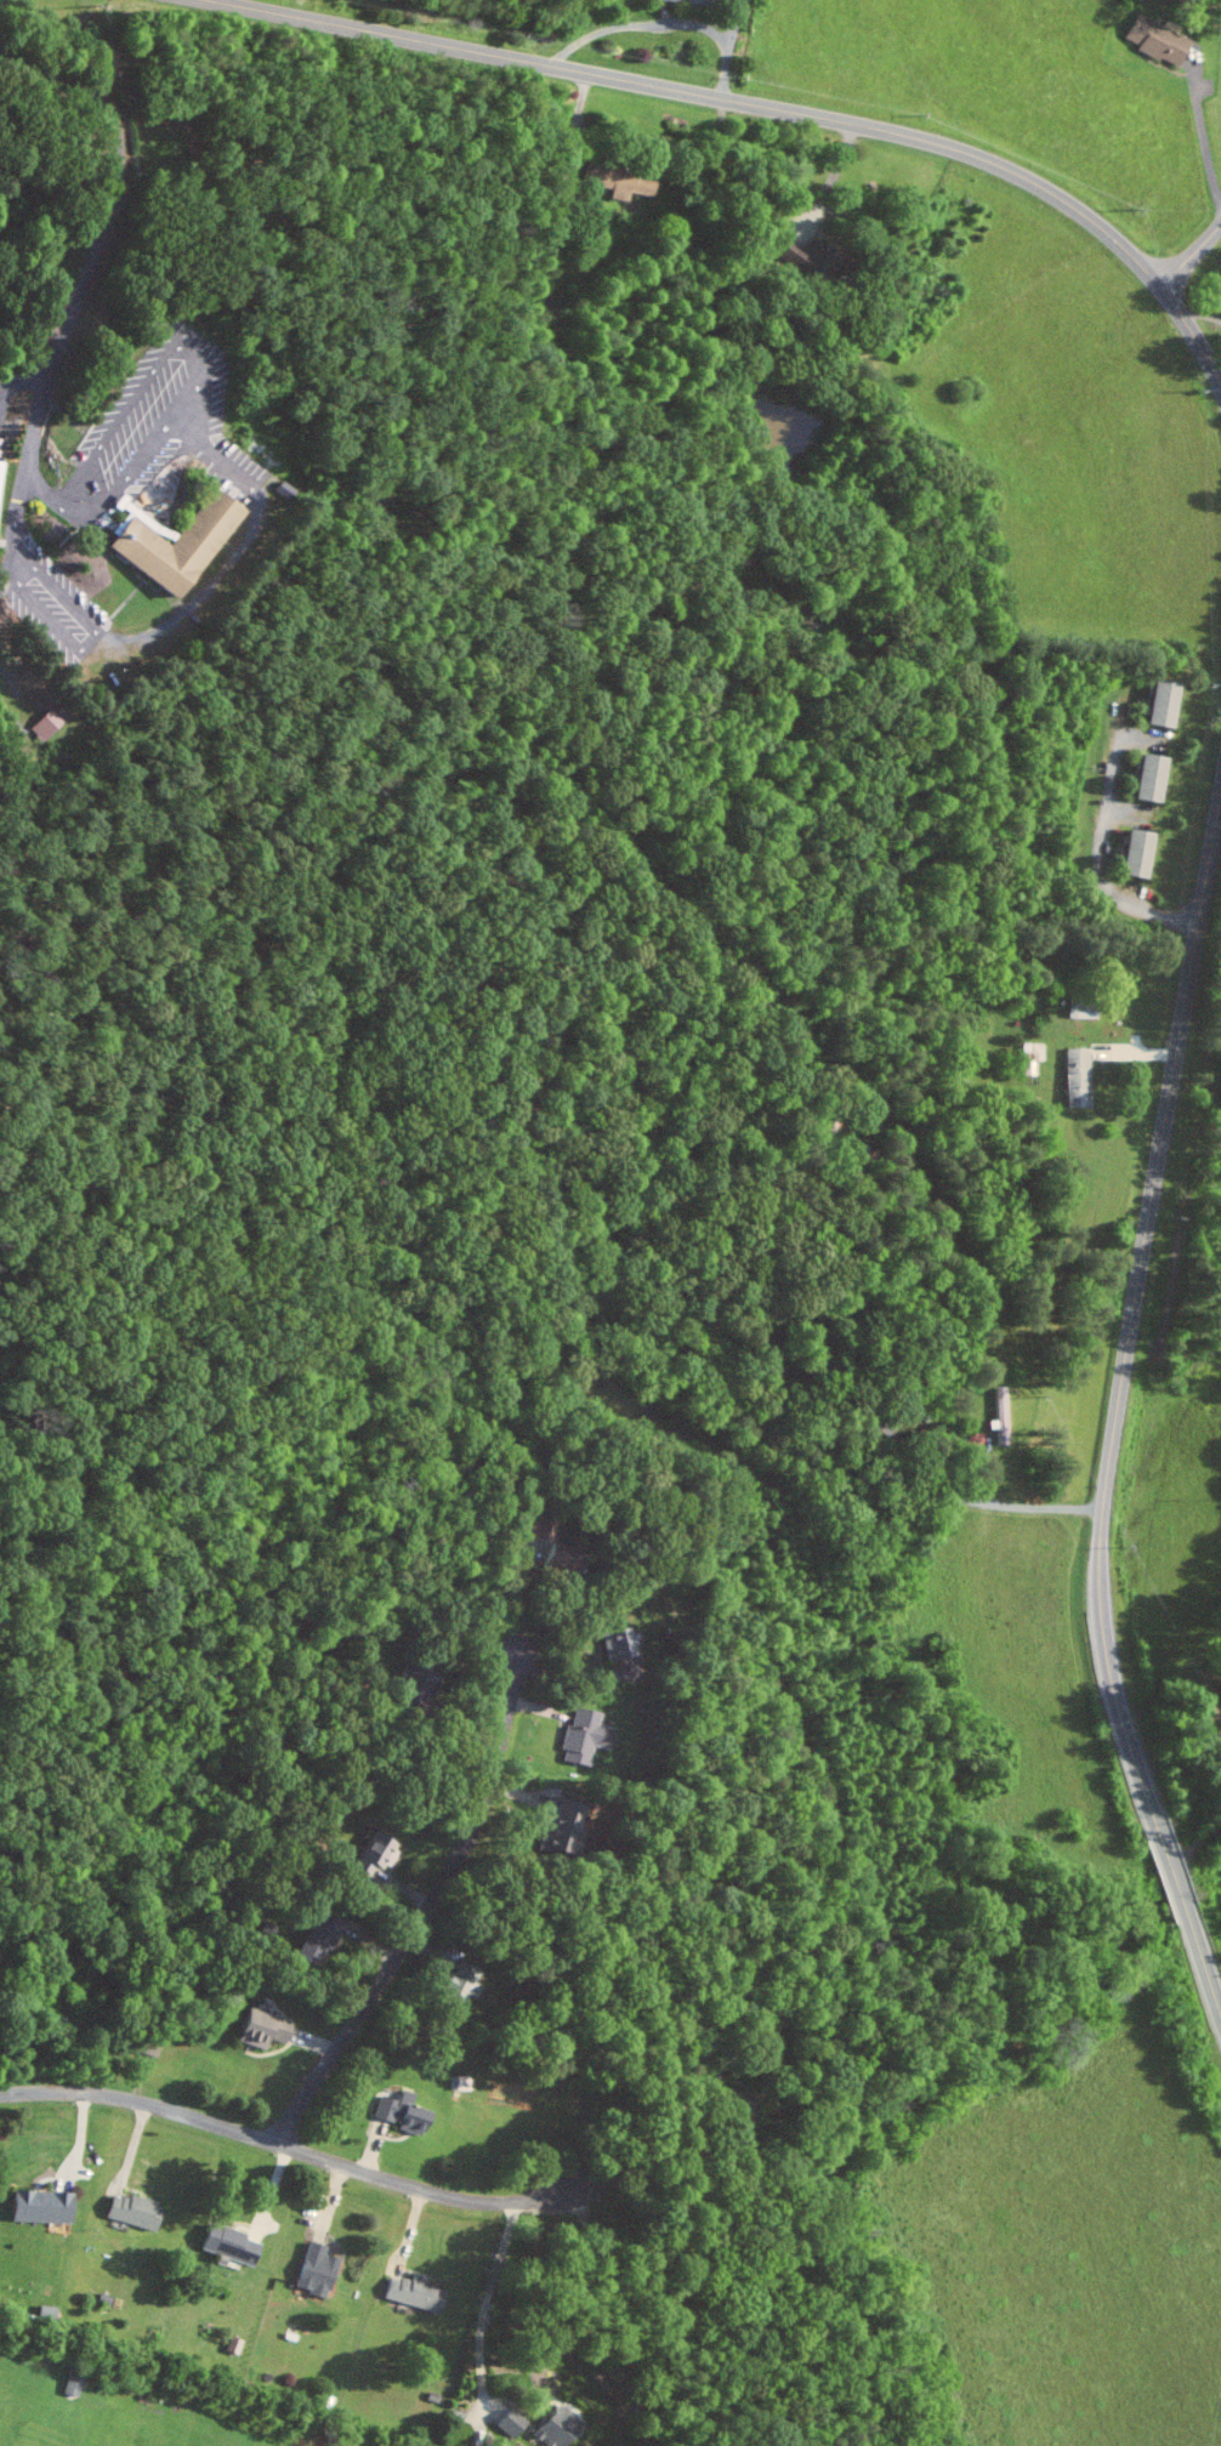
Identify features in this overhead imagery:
building: (691, 1)
road: (663, 22)
building: (1152, 39)
road: (762, 106)
road: (1203, 129)
building: (615, 180)
road: (1189, 255)
building: (805, 256)
road: (87, 269)
road: (197, 368)
road: (22, 381)
building: (170, 544)
road: (169, 625)
road: (8, 669)
building: (1160, 702)
building: (44, 723)
building: (1145, 778)
building: (1131, 853)
road: (1098, 861)
building: (1029, 1057)
building: (1074, 1077)
road: (1132, 1312)
road: (875, 1410)
building: (999, 1415)
building: (539, 1528)
building: (555, 1558)
building: (612, 1642)
road: (573, 1676)
building: (418, 1684)
building: (580, 1735)
building: (556, 1828)
building: (373, 1853)
road: (1171, 1871)
road: (422, 1916)
building: (317, 1935)
road: (1204, 1963)
building: (456, 1987)
building: (257, 2027)
building: (459, 2082)
building: (398, 2111)
building: (737, 2114)
road: (288, 2146)
building: (36, 2206)
building: (127, 2211)
building: (226, 2243)
building: (312, 2270)
building: (409, 2292)
road: (483, 2308)
road: (608, 2319)
building: (69, 2384)
building: (505, 2422)
building: (551, 2427)

